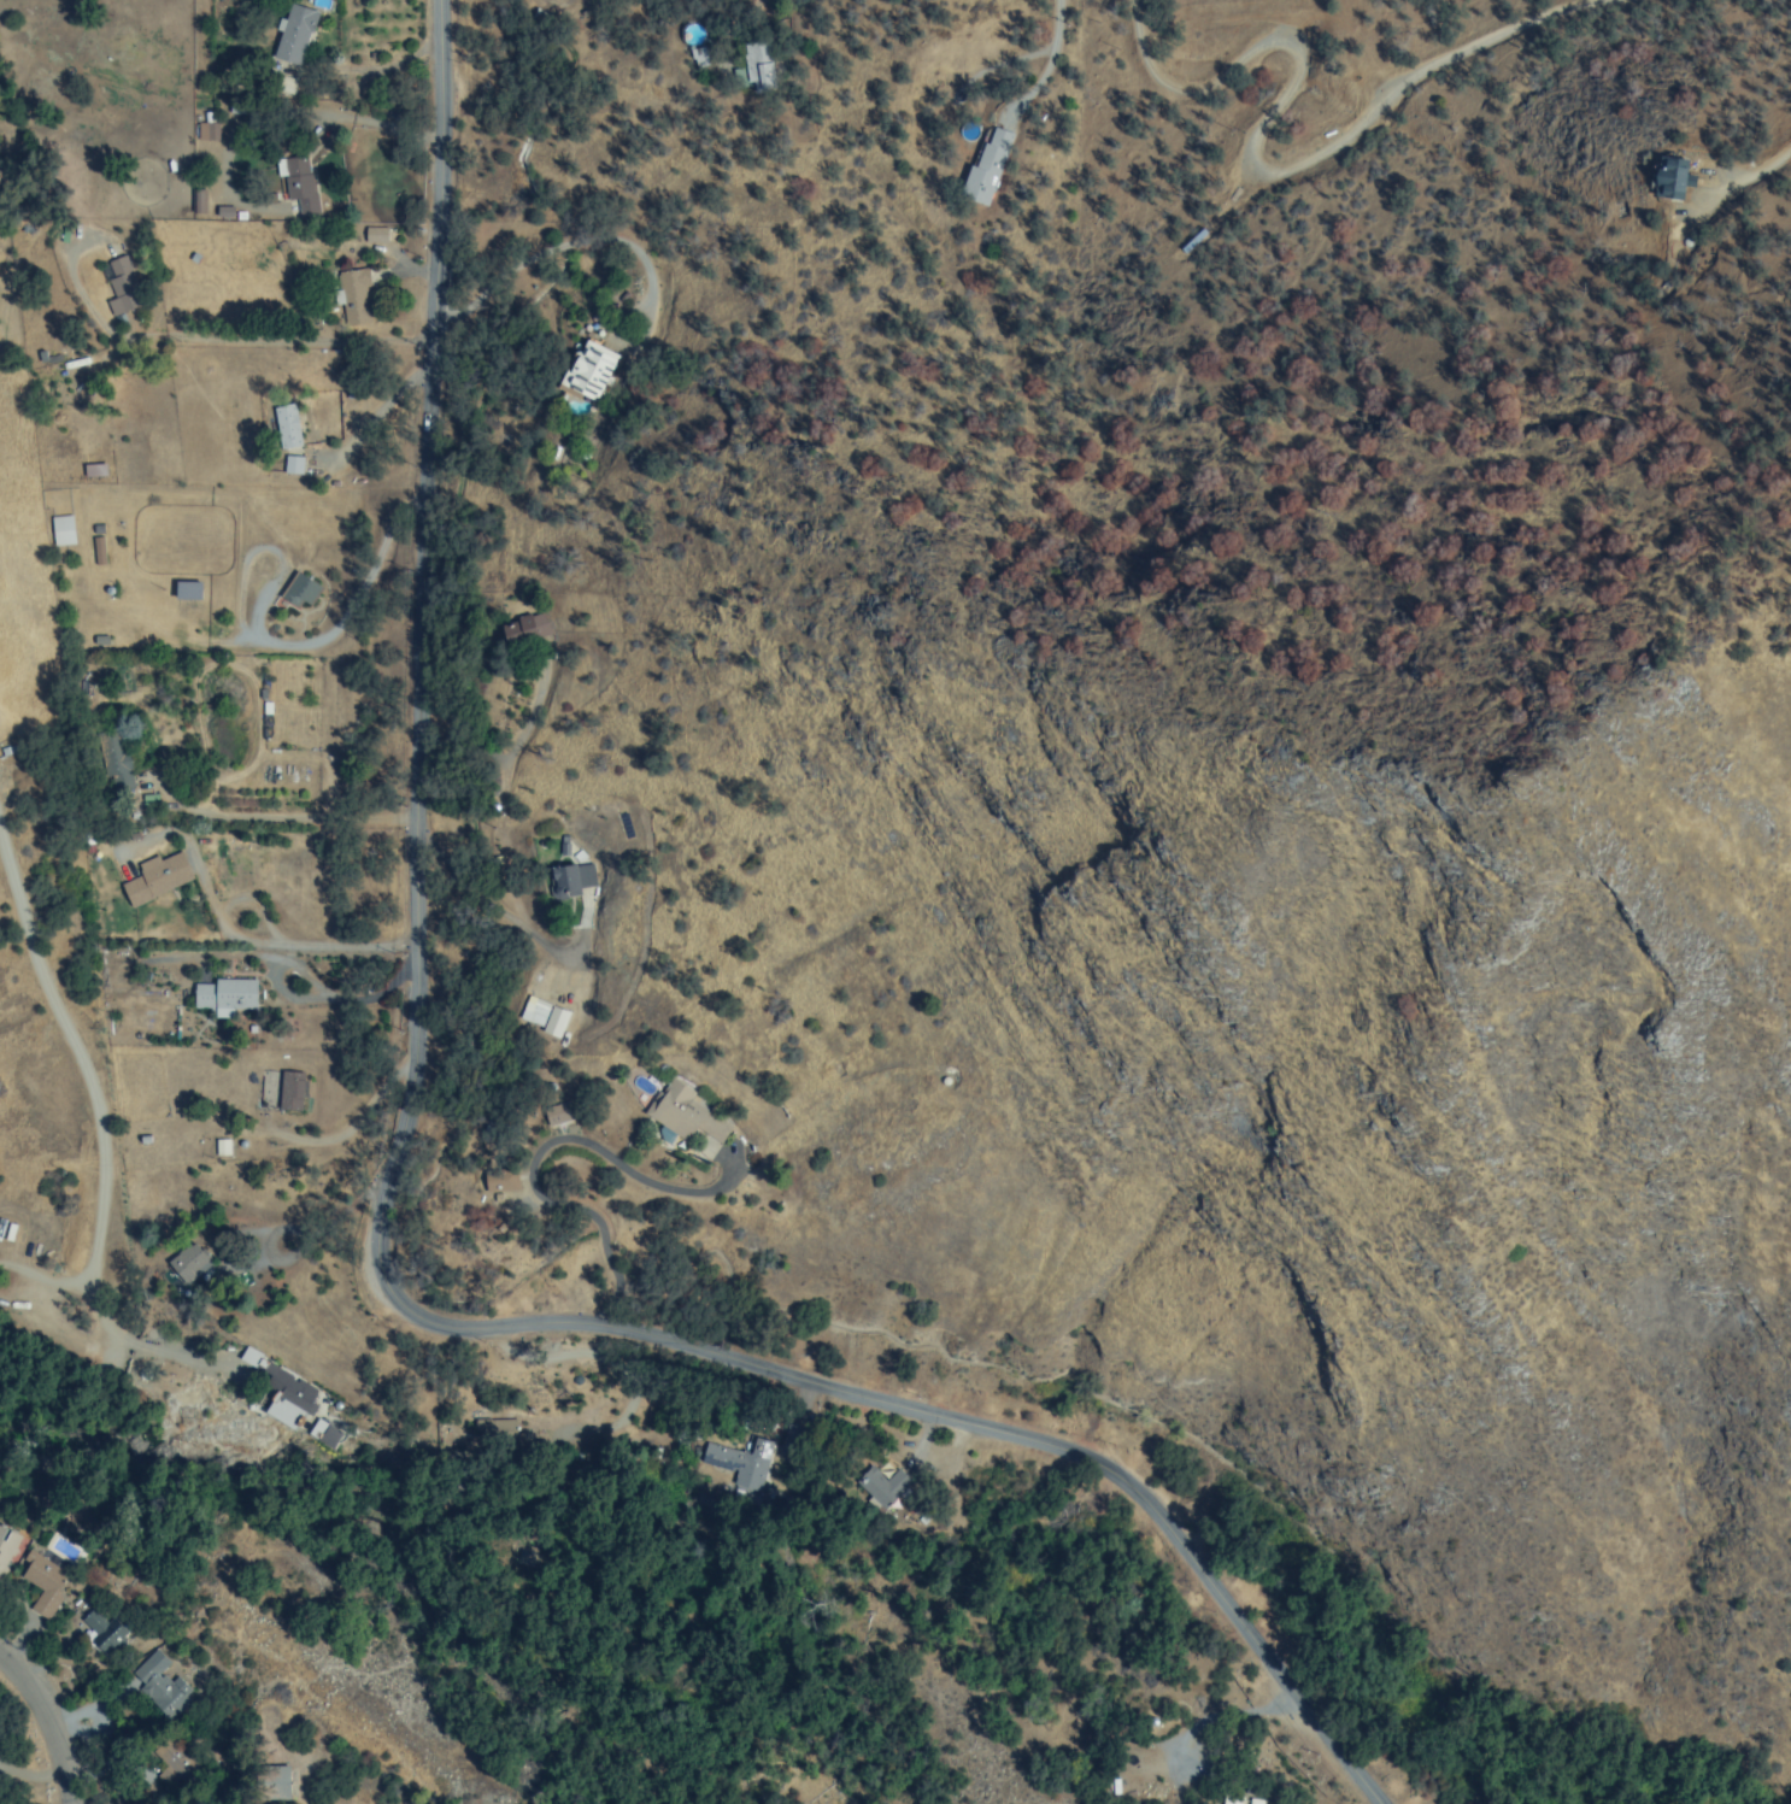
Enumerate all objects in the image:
building: (289, 36)
park: (1137, 54)
building: (698, 58)
building: (756, 67)
building: (204, 131)
road: (1292, 164)
road: (1763, 168)
building: (985, 169)
building: (1669, 180)
building: (293, 186)
building: (193, 201)
building: (222, 212)
building: (239, 215)
building: (375, 235)
building: (106, 246)
building: (193, 258)
building: (119, 288)
building: (347, 292)
building: (118, 323)
building: (587, 370)
building: (276, 424)
building: (59, 531)
building: (298, 594)
road: (336, 610)
building: (522, 631)
building: (99, 640)
building: (147, 804)
building: (564, 846)
building: (155, 880)
building: (568, 883)
building: (224, 995)
building: (534, 1021)
building: (264, 1075)
building: (289, 1091)
building: (682, 1113)
building: (556, 1115)
building: (142, 1141)
building: (499, 1176)
building: (141, 1221)
road: (375, 1235)
building: (188, 1273)
building: (284, 1391)
building: (497, 1429)
building: (546, 1433)
building: (740, 1459)
building: (880, 1487)
building: (2, 1535)
river: (337, 1539)
building: (41, 1583)
building: (100, 1632)
building: (158, 1685)
road: (39, 1723)
building: (180, 1767)
building: (270, 1782)
building: (1237, 1800)

